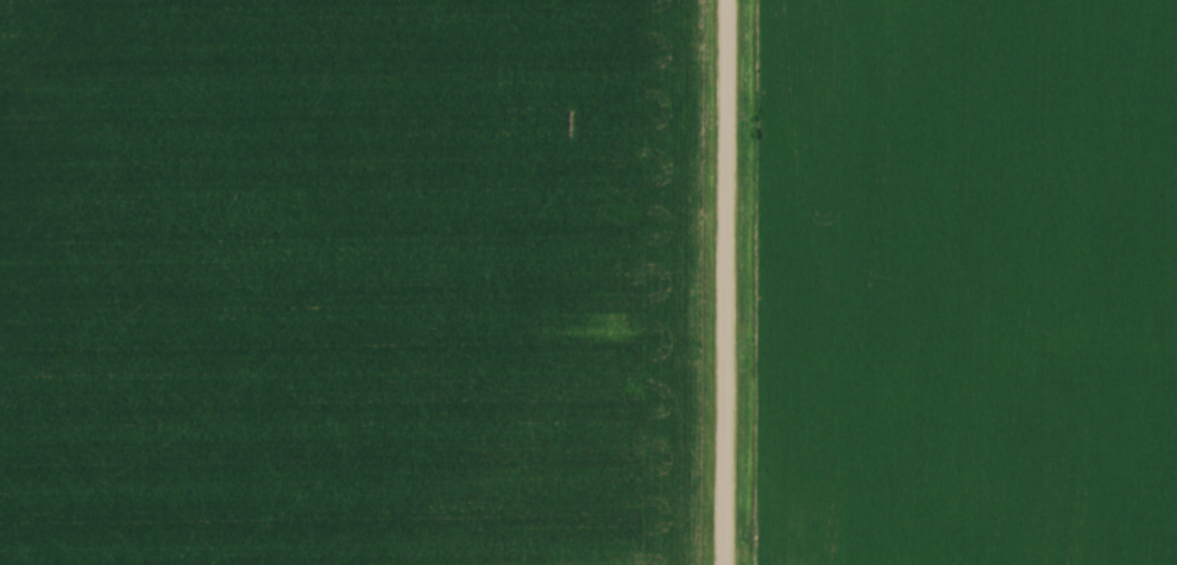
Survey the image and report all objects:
road: (722, 282)

